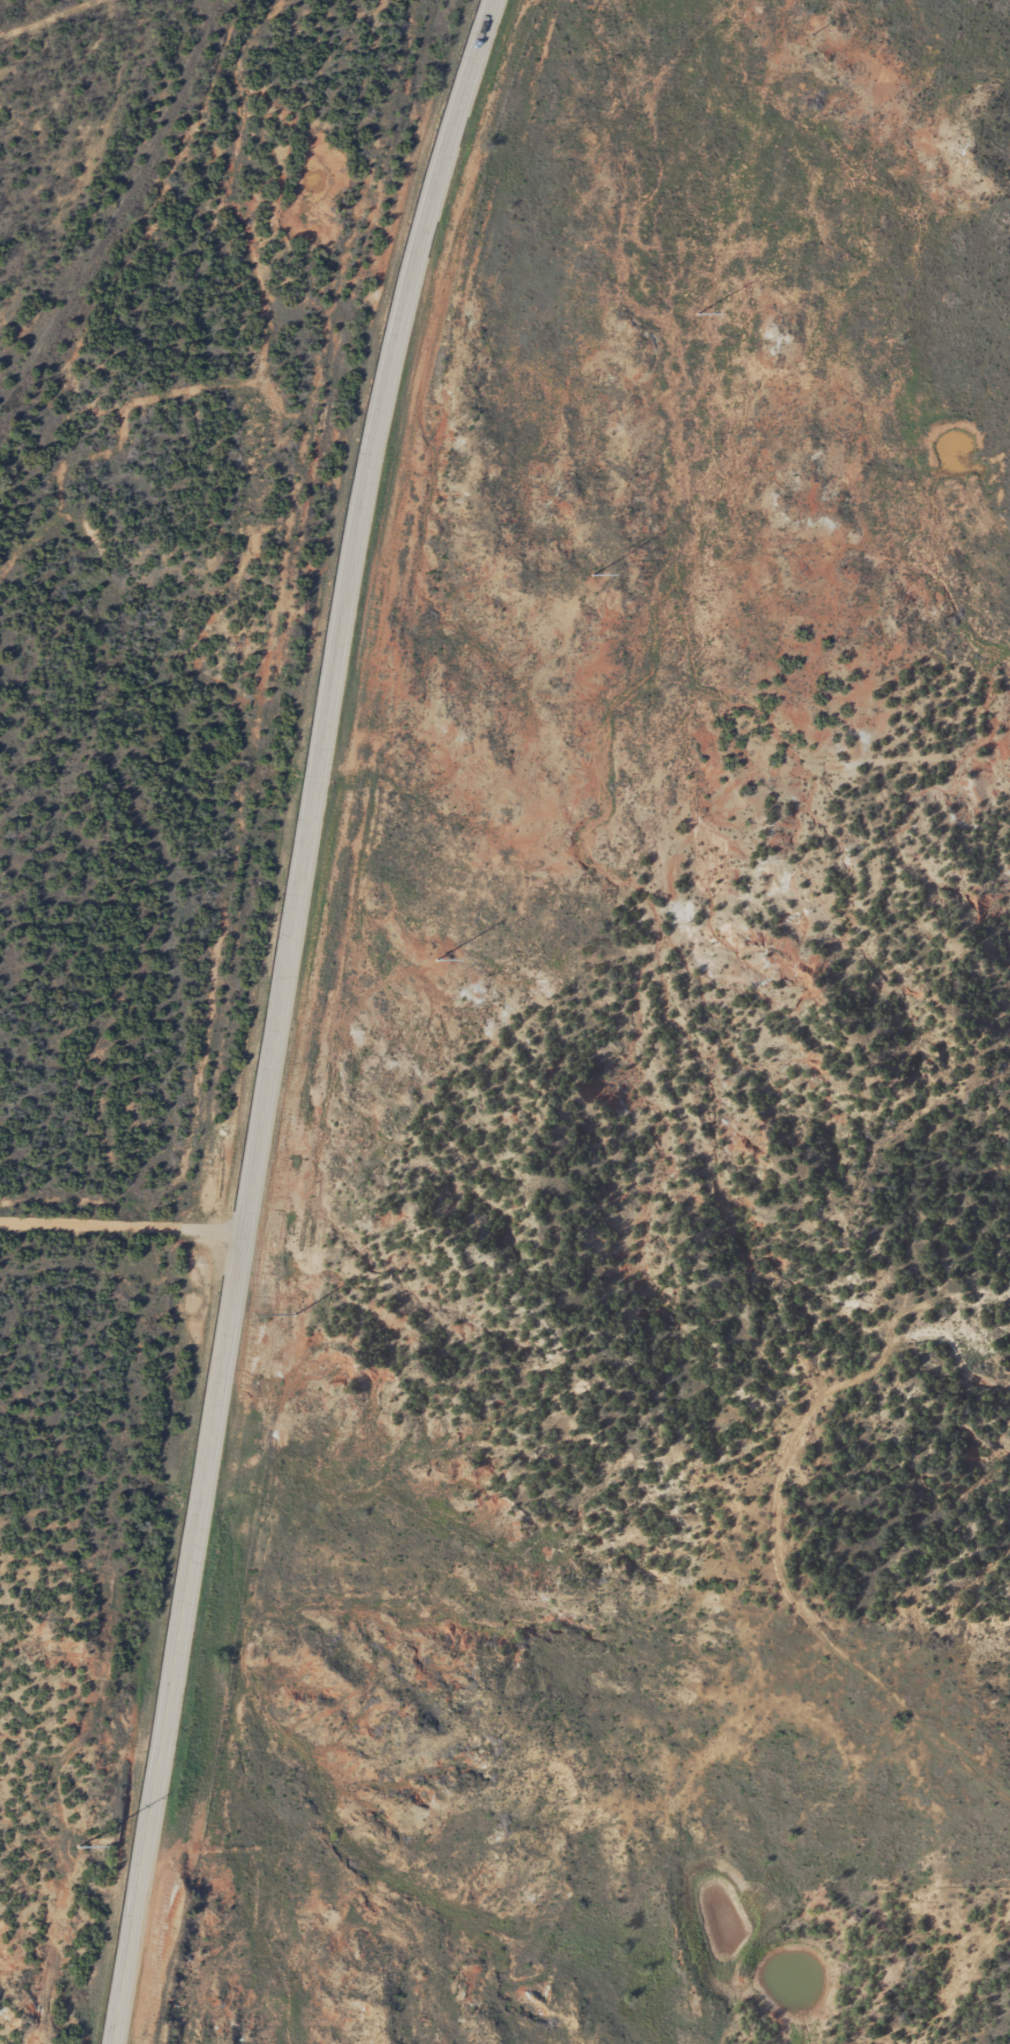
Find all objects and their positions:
power tower: (808, 41)
road: (20, 46)
railway: (114, 213)
power tower: (697, 323)
power tower: (590, 583)
power tower: (440, 958)
road: (279, 1015)
road: (122, 1213)
power tower: (287, 1330)
road: (754, 1548)
power tower: (101, 1793)

